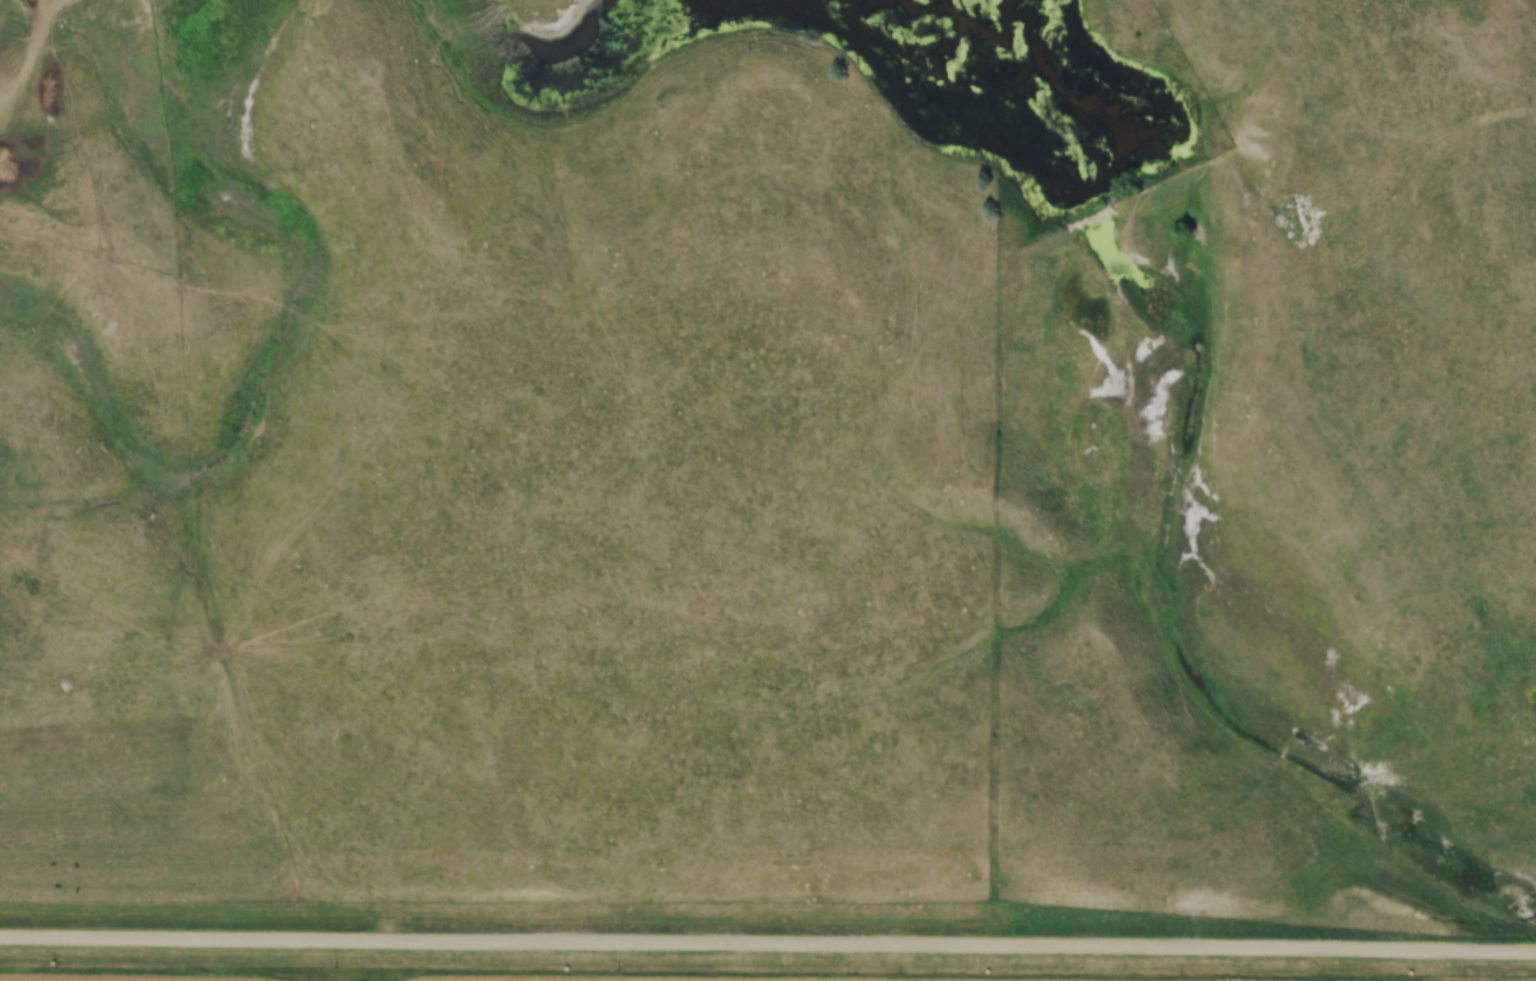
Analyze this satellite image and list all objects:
road: (768, 943)

